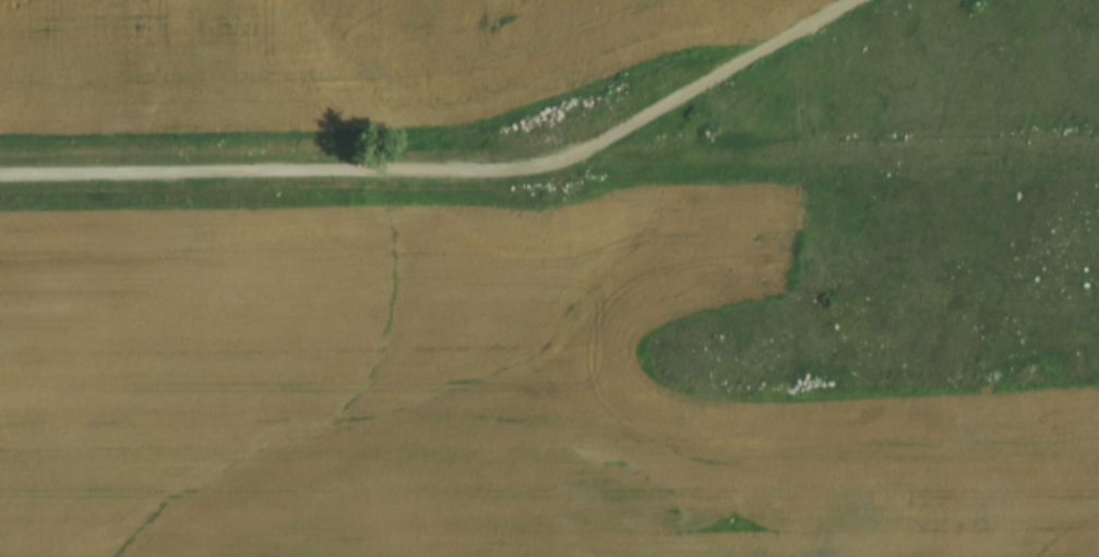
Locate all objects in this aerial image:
road: (815, 160)
road: (449, 162)

